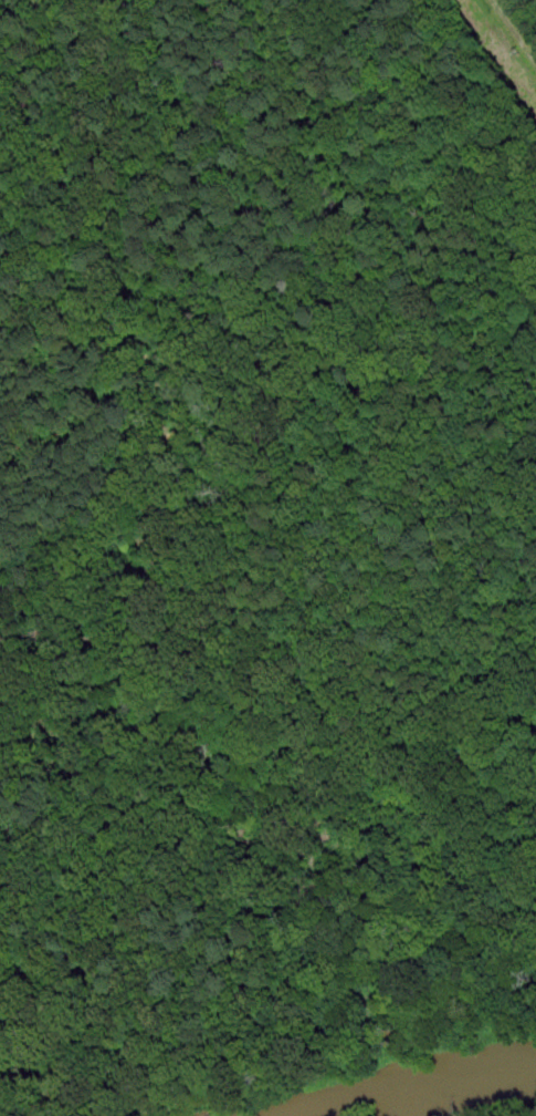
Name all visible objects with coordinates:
river: (446, 1094)

